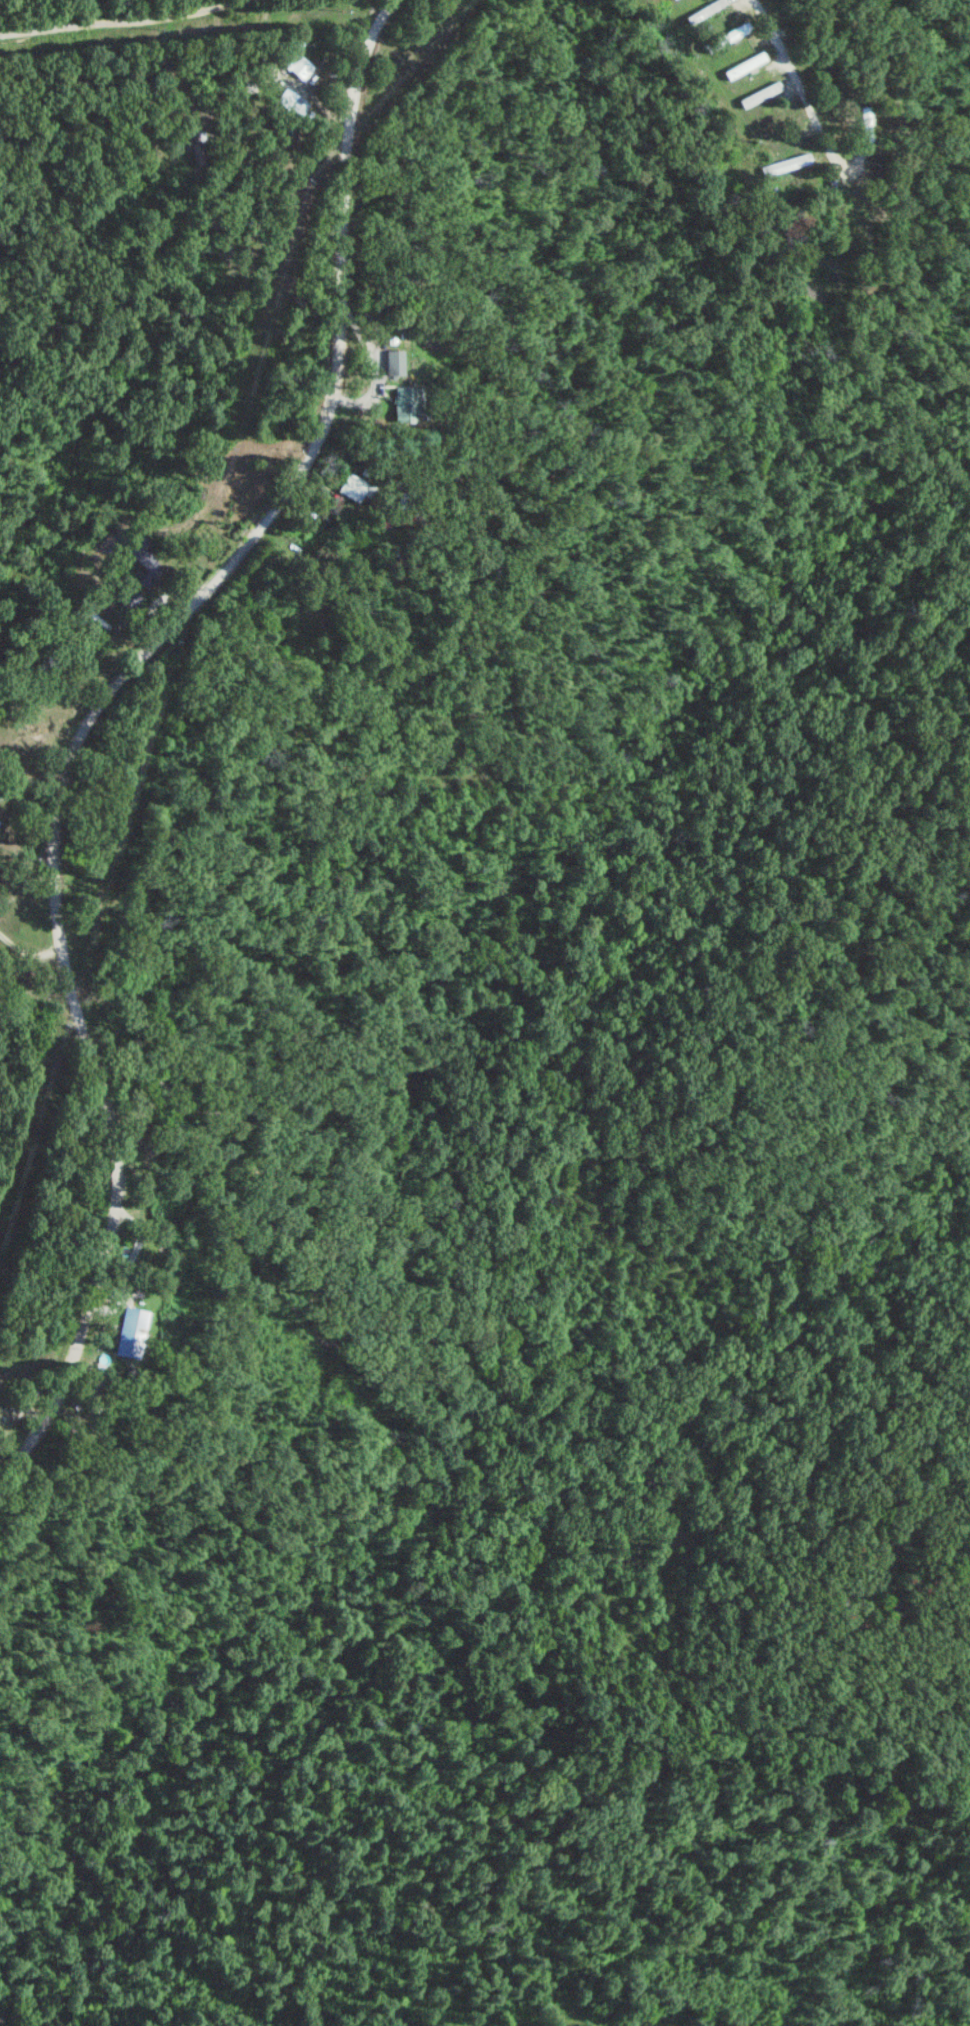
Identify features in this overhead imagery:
building: (710, 10)
building: (725, 34)
road: (195, 41)
building: (303, 59)
building: (744, 65)
road: (801, 87)
building: (759, 95)
building: (298, 106)
building: (395, 361)
building: (405, 403)
building: (353, 486)
building: (142, 557)
road: (87, 715)
road: (29, 780)
road: (26, 951)
building: (128, 1334)

